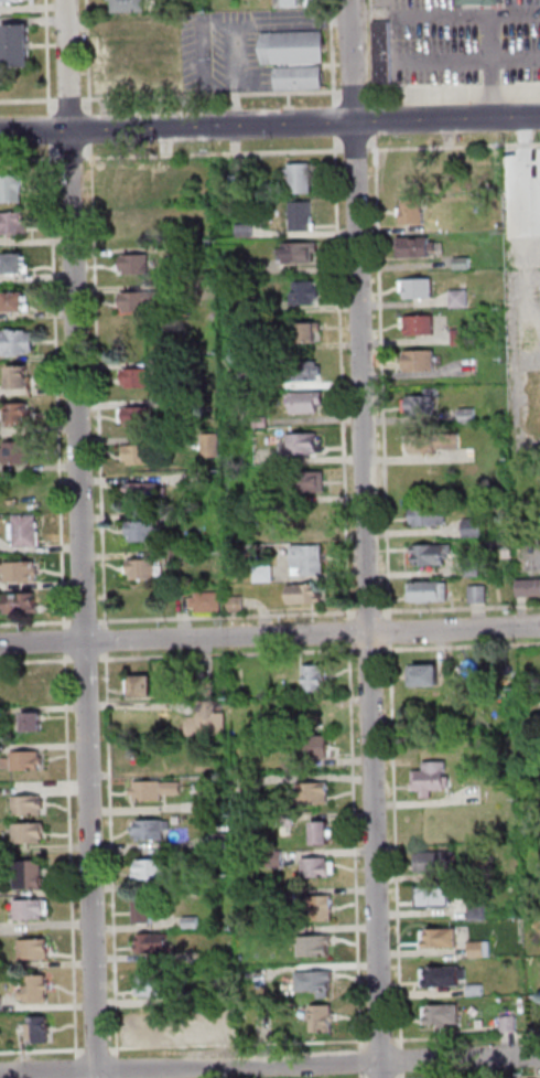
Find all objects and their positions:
building: (9, 1)
building: (484, 1)
building: (294, 3)
building: (129, 6)
road: (467, 12)
road: (34, 18)
road: (244, 26)
road: (206, 42)
parking lot: (464, 42)
building: (20, 47)
parking lot: (237, 47)
road: (374, 52)
building: (385, 52)
road: (334, 54)
road: (50, 57)
road: (89, 57)
building: (299, 60)
road: (467, 60)
road: (492, 65)
building: (3, 73)
road: (454, 89)
road: (357, 93)
road: (214, 96)
road: (30, 100)
road: (72, 100)
road: (517, 117)
road: (376, 119)
road: (424, 119)
road: (337, 121)
road: (177, 127)
road: (52, 130)
road: (91, 130)
road: (527, 131)
road: (454, 146)
road: (356, 149)
road: (215, 153)
road: (74, 159)
road: (31, 160)
building: (301, 179)
building: (130, 184)
building: (13, 191)
road: (529, 200)
parking lot: (523, 206)
building: (414, 212)
building: (304, 217)
building: (13, 225)
building: (248, 232)
building: (415, 248)
building: (191, 254)
building: (302, 254)
building: (14, 265)
building: (138, 265)
building: (464, 265)
building: (247, 268)
building: (419, 289)
building: (192, 290)
building: (307, 295)
building: (461, 299)
building: (144, 301)
building: (18, 303)
parking lot: (526, 320)
road: (528, 324)
building: (421, 327)
building: (311, 333)
building: (463, 338)
building: (18, 343)
building: (271, 348)
road: (529, 351)
road: (518, 359)
building: (422, 362)
building: (306, 373)
road: (384, 376)
road: (344, 377)
building: (22, 378)
building: (138, 380)
road: (100, 386)
road: (60, 387)
building: (196, 403)
building: (309, 403)
building: (423, 405)
building: (21, 415)
building: (471, 416)
building: (138, 417)
building: (538, 417)
building: (264, 423)
building: (304, 444)
building: (433, 444)
building: (214, 446)
building: (18, 453)
building: (141, 456)
building: (202, 481)
building: (311, 483)
building: (145, 492)
building: (169, 516)
building: (430, 519)
building: (306, 525)
building: (475, 529)
building: (29, 532)
building: (147, 532)
road: (85, 538)
road: (368, 538)
building: (184, 555)
building: (433, 555)
building: (310, 562)
building: (147, 570)
building: (474, 570)
building: (22, 574)
building: (266, 575)
building: (530, 588)
building: (430, 594)
building: (307, 595)
building: (480, 596)
building: (21, 604)
building: (208, 604)
building: (238, 606)
road: (461, 607)
road: (371, 611)
road: (229, 617)
road: (86, 622)
road: (36, 623)
road: (352, 631)
road: (392, 631)
road: (270, 636)
road: (108, 640)
road: (67, 642)
road: (352, 647)
road: (462, 647)
road: (371, 650)
road: (230, 654)
road: (36, 660)
road: (87, 660)
building: (423, 674)
building: (313, 677)
building: (139, 685)
building: (204, 685)
building: (31, 687)
building: (206, 718)
building: (35, 724)
building: (314, 746)
building: (26, 761)
building: (429, 777)
building: (504, 781)
building: (152, 789)
building: (312, 792)
building: (215, 803)
building: (31, 807)
building: (149, 829)
building: (321, 831)
building: (30, 833)
building: (218, 840)
road: (398, 844)
road: (357, 848)
road: (114, 854)
road: (73, 855)
building: (429, 861)
building: (317, 866)
building: (151, 867)
building: (32, 876)
building: (224, 879)
building: (431, 895)
building: (315, 908)
building: (32, 909)
building: (142, 910)
building: (479, 912)
building: (190, 921)
building: (438, 937)
building: (150, 942)
building: (314, 944)
building: (478, 948)
building: (36, 950)
building: (239, 957)
building: (245, 972)
building: (442, 974)
building: (314, 981)
building: (153, 984)
building: (475, 989)
building: (36, 991)
building: (193, 996)
building: (1, 1004)
building: (439, 1014)
building: (320, 1017)
building: (507, 1023)
building: (150, 1029)
building: (41, 1031)
building: (192, 1031)
road: (467, 1036)
road: (382, 1039)
road: (240, 1044)
road: (98, 1049)
road: (43, 1050)
road: (404, 1059)
road: (363, 1060)
road: (270, 1065)
road: (78, 1067)
road: (120, 1067)
road: (364, 1075)
road: (404, 1075)
road: (523, 1077)

